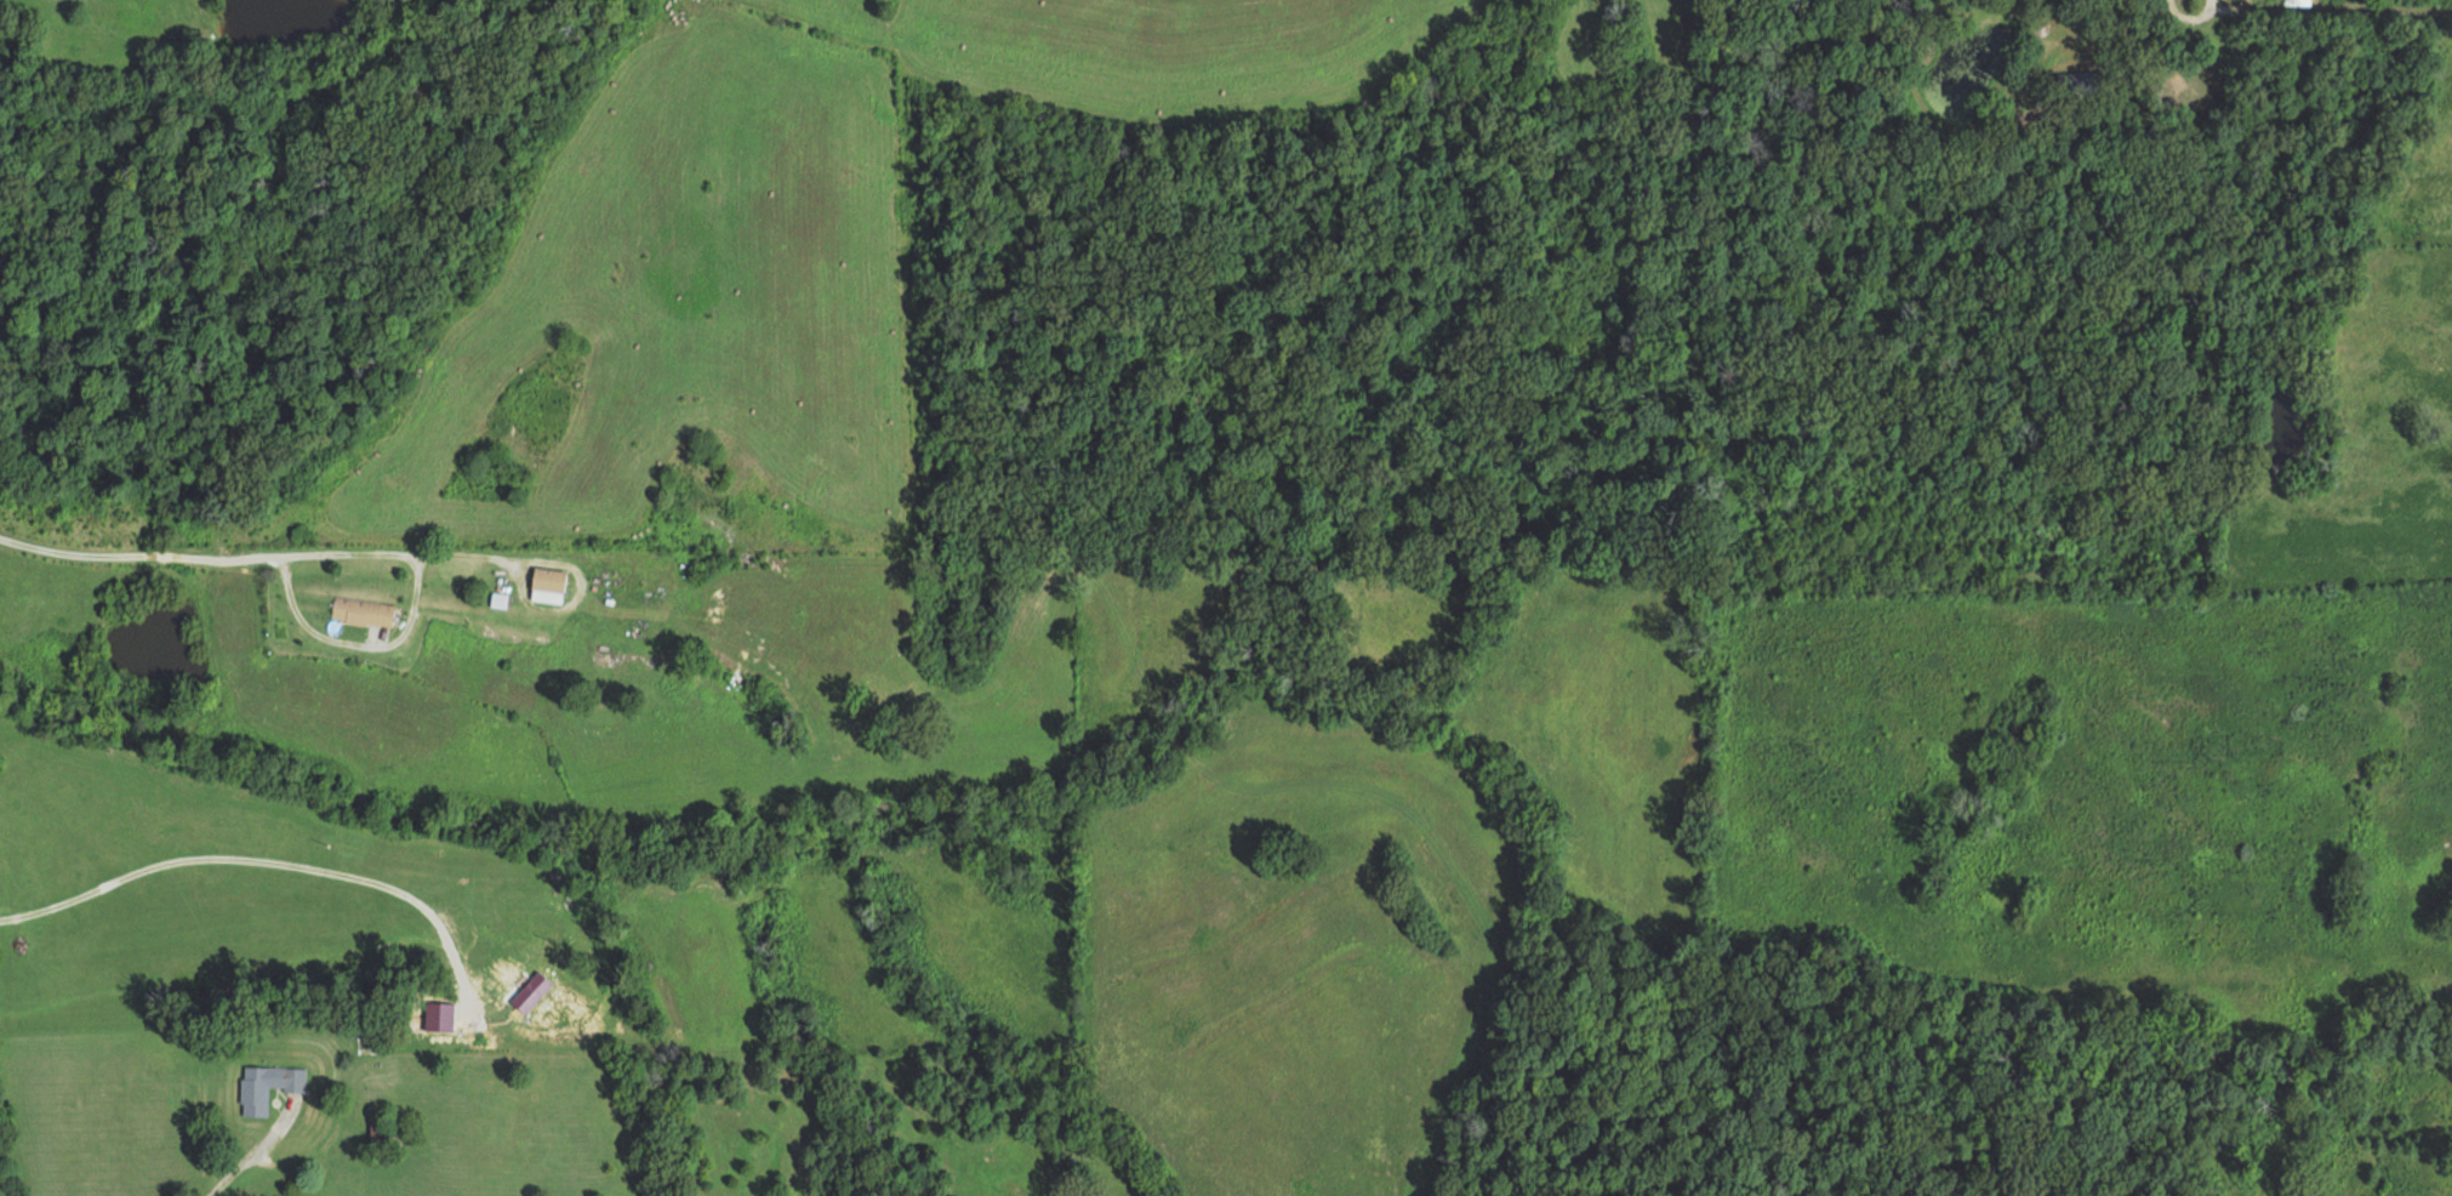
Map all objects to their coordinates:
building: (2297, 1)
road: (2323, 56)
building: (2086, 86)
road: (205, 582)
building: (544, 583)
building: (359, 611)
building: (266, 1087)

